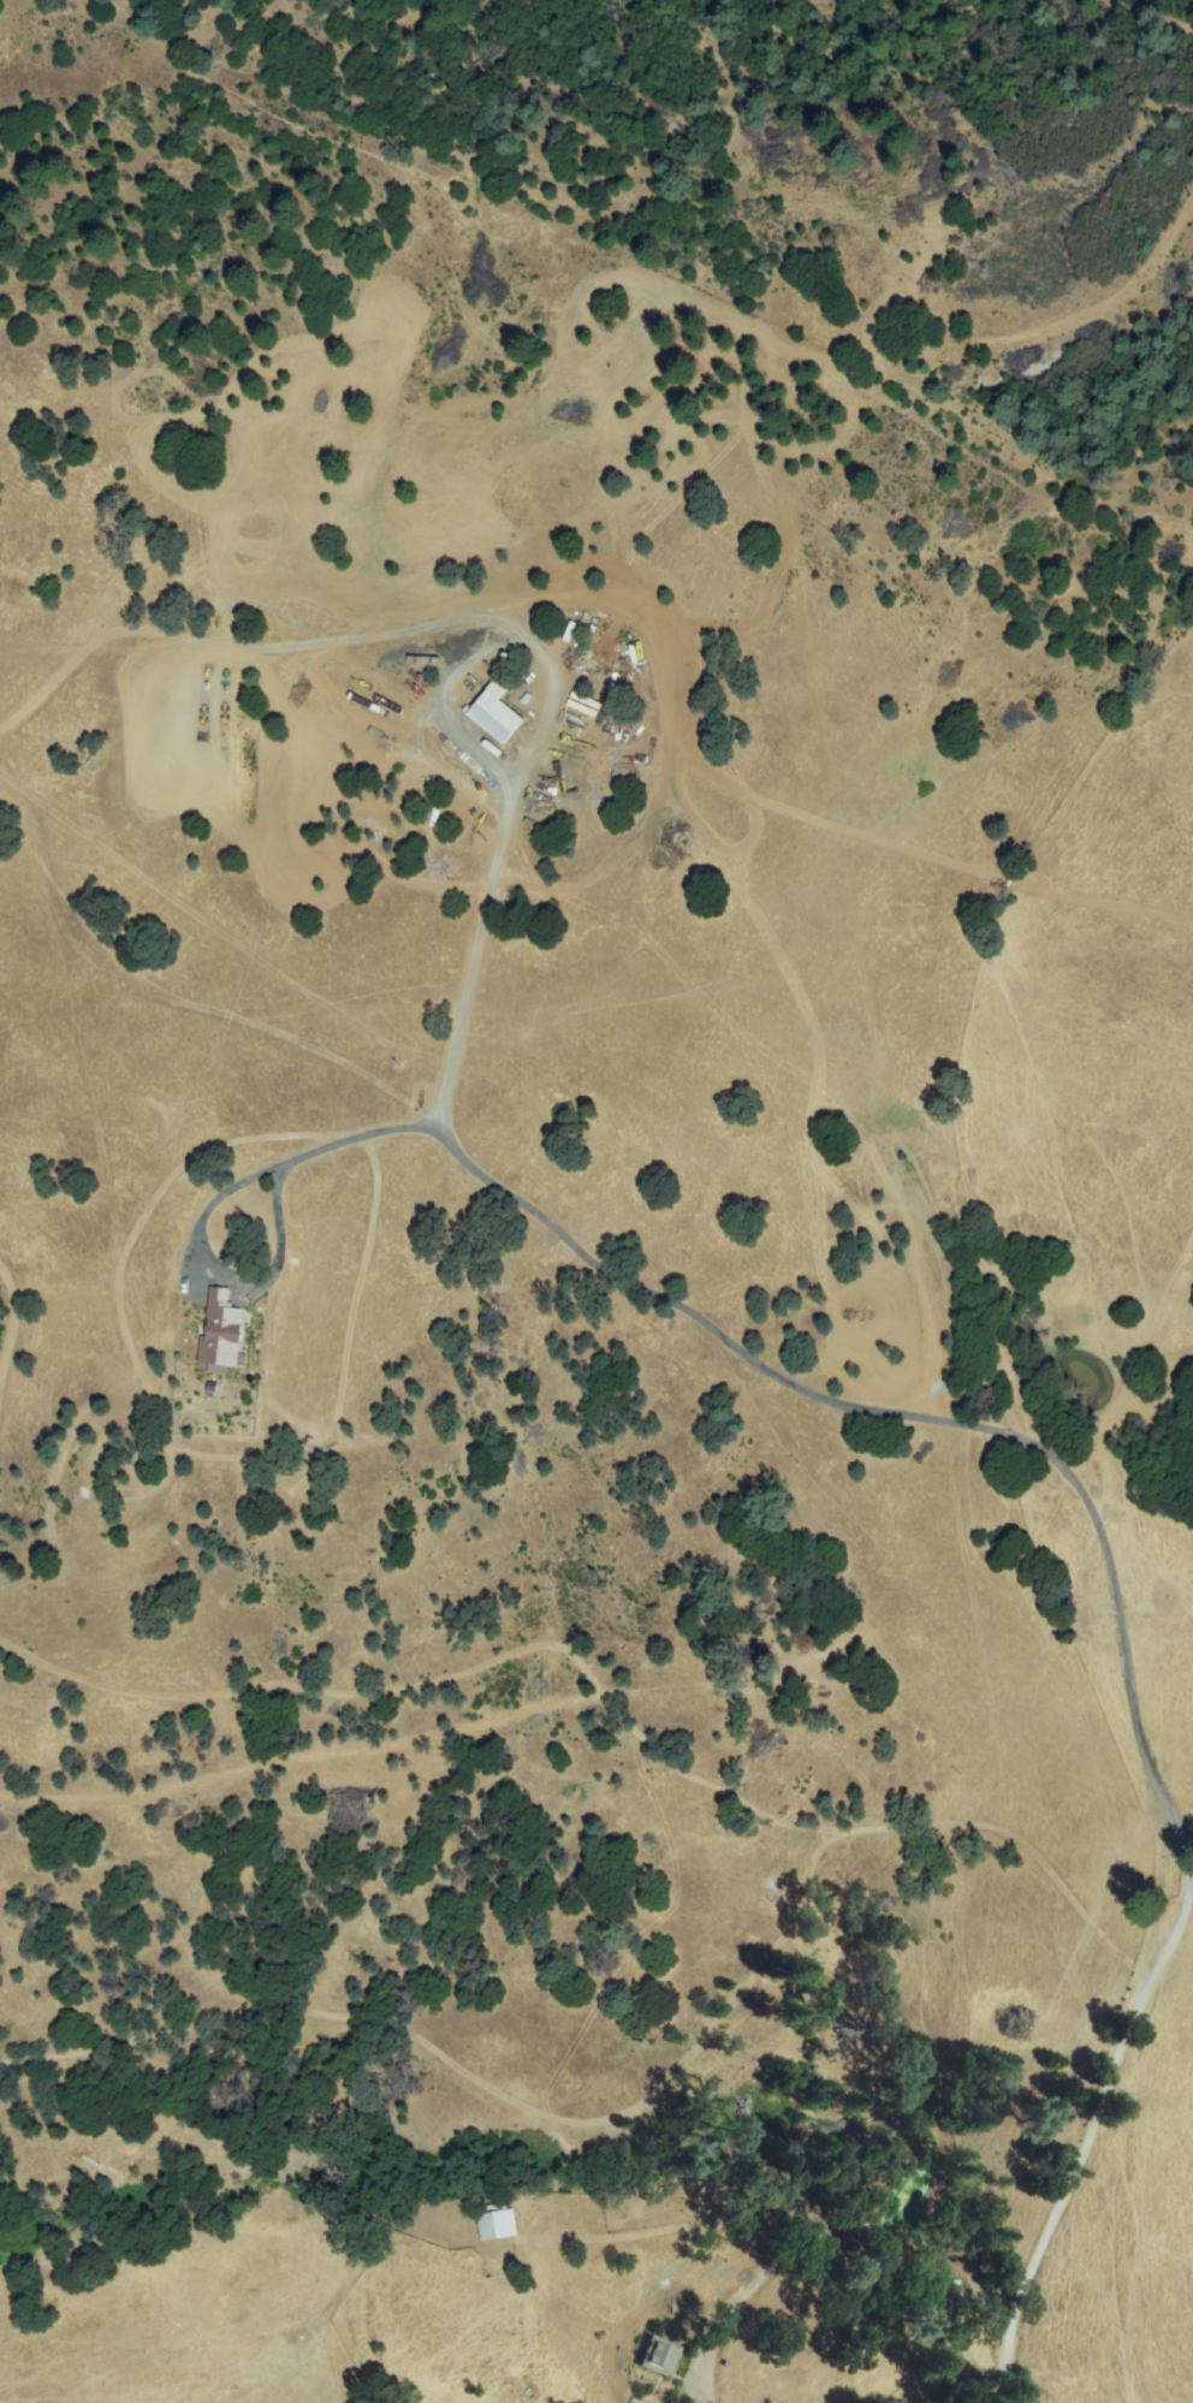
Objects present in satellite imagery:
building: (497, 713)
building: (551, 928)
road: (667, 1294)
building: (222, 1334)
road: (1187, 1849)
road: (1090, 2125)
building: (497, 2221)
building: (659, 2356)

